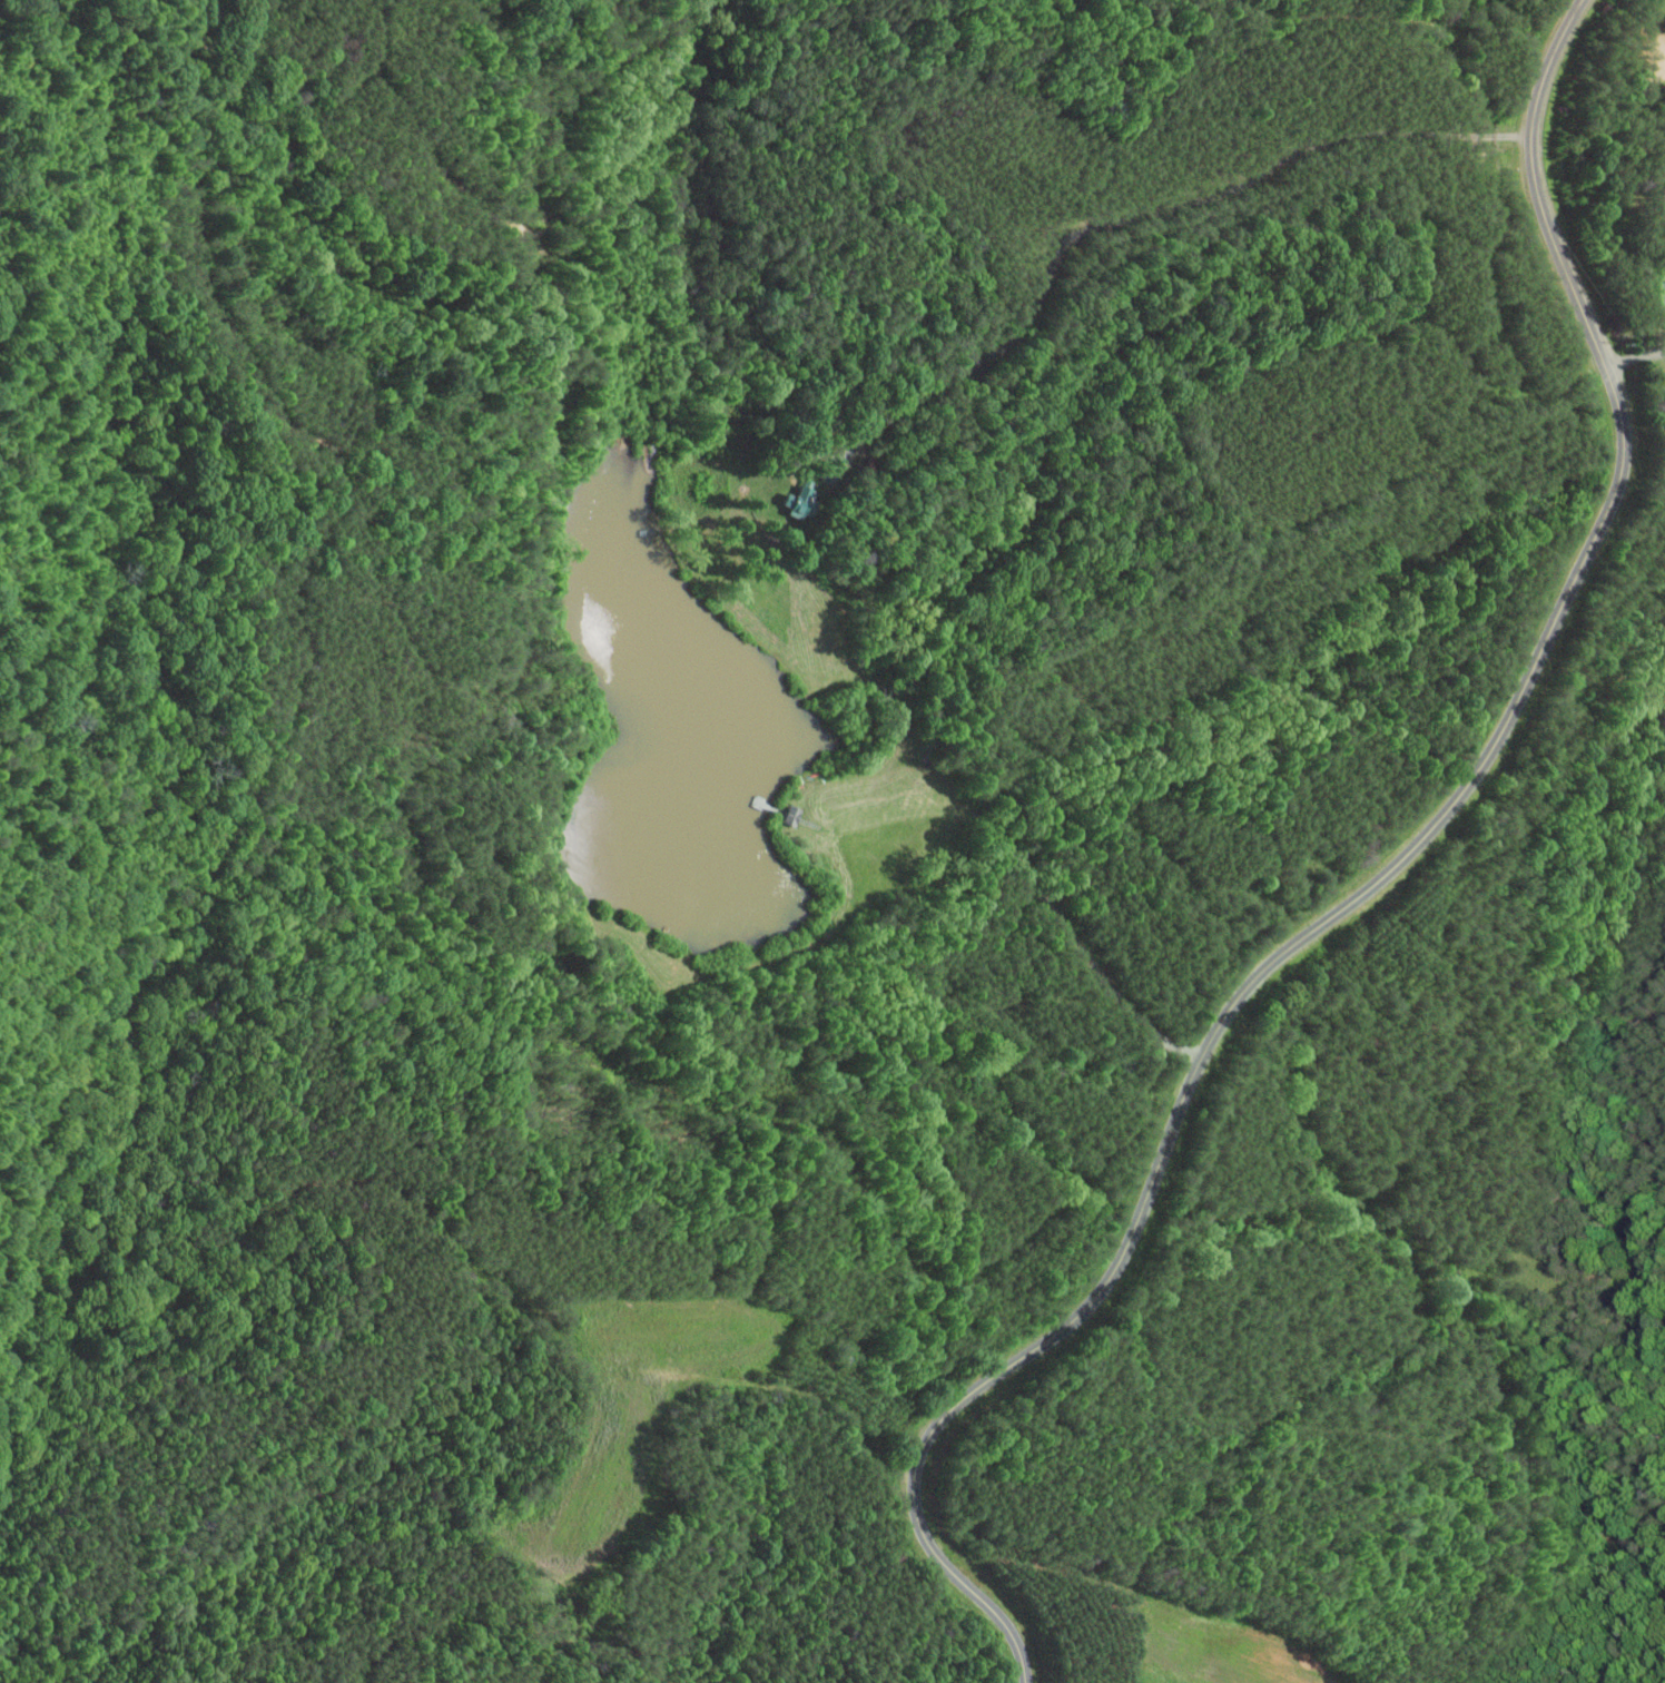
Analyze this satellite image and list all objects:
building: (1664, 284)
road: (1633, 358)
road: (1366, 893)

